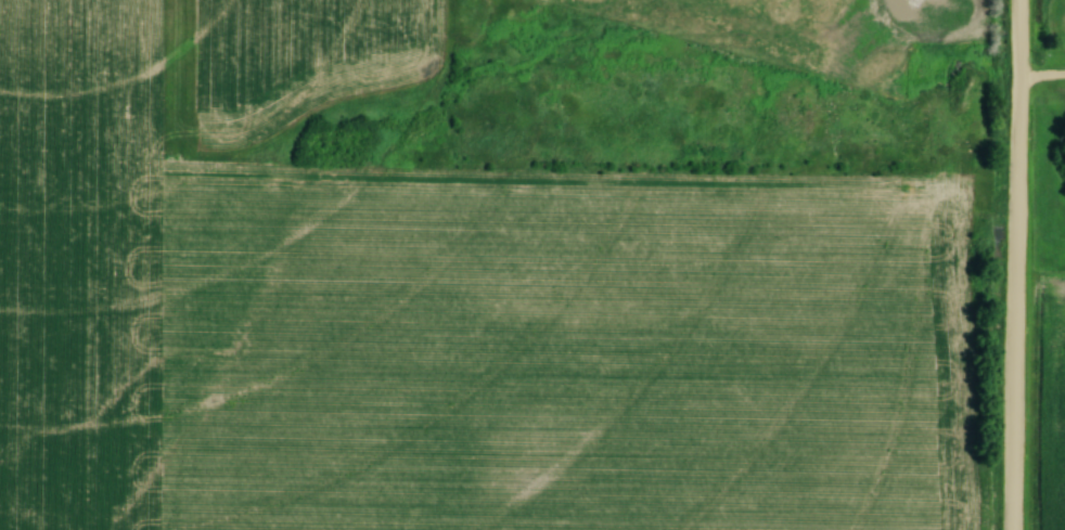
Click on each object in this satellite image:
road: (1041, 79)
road: (1012, 264)

